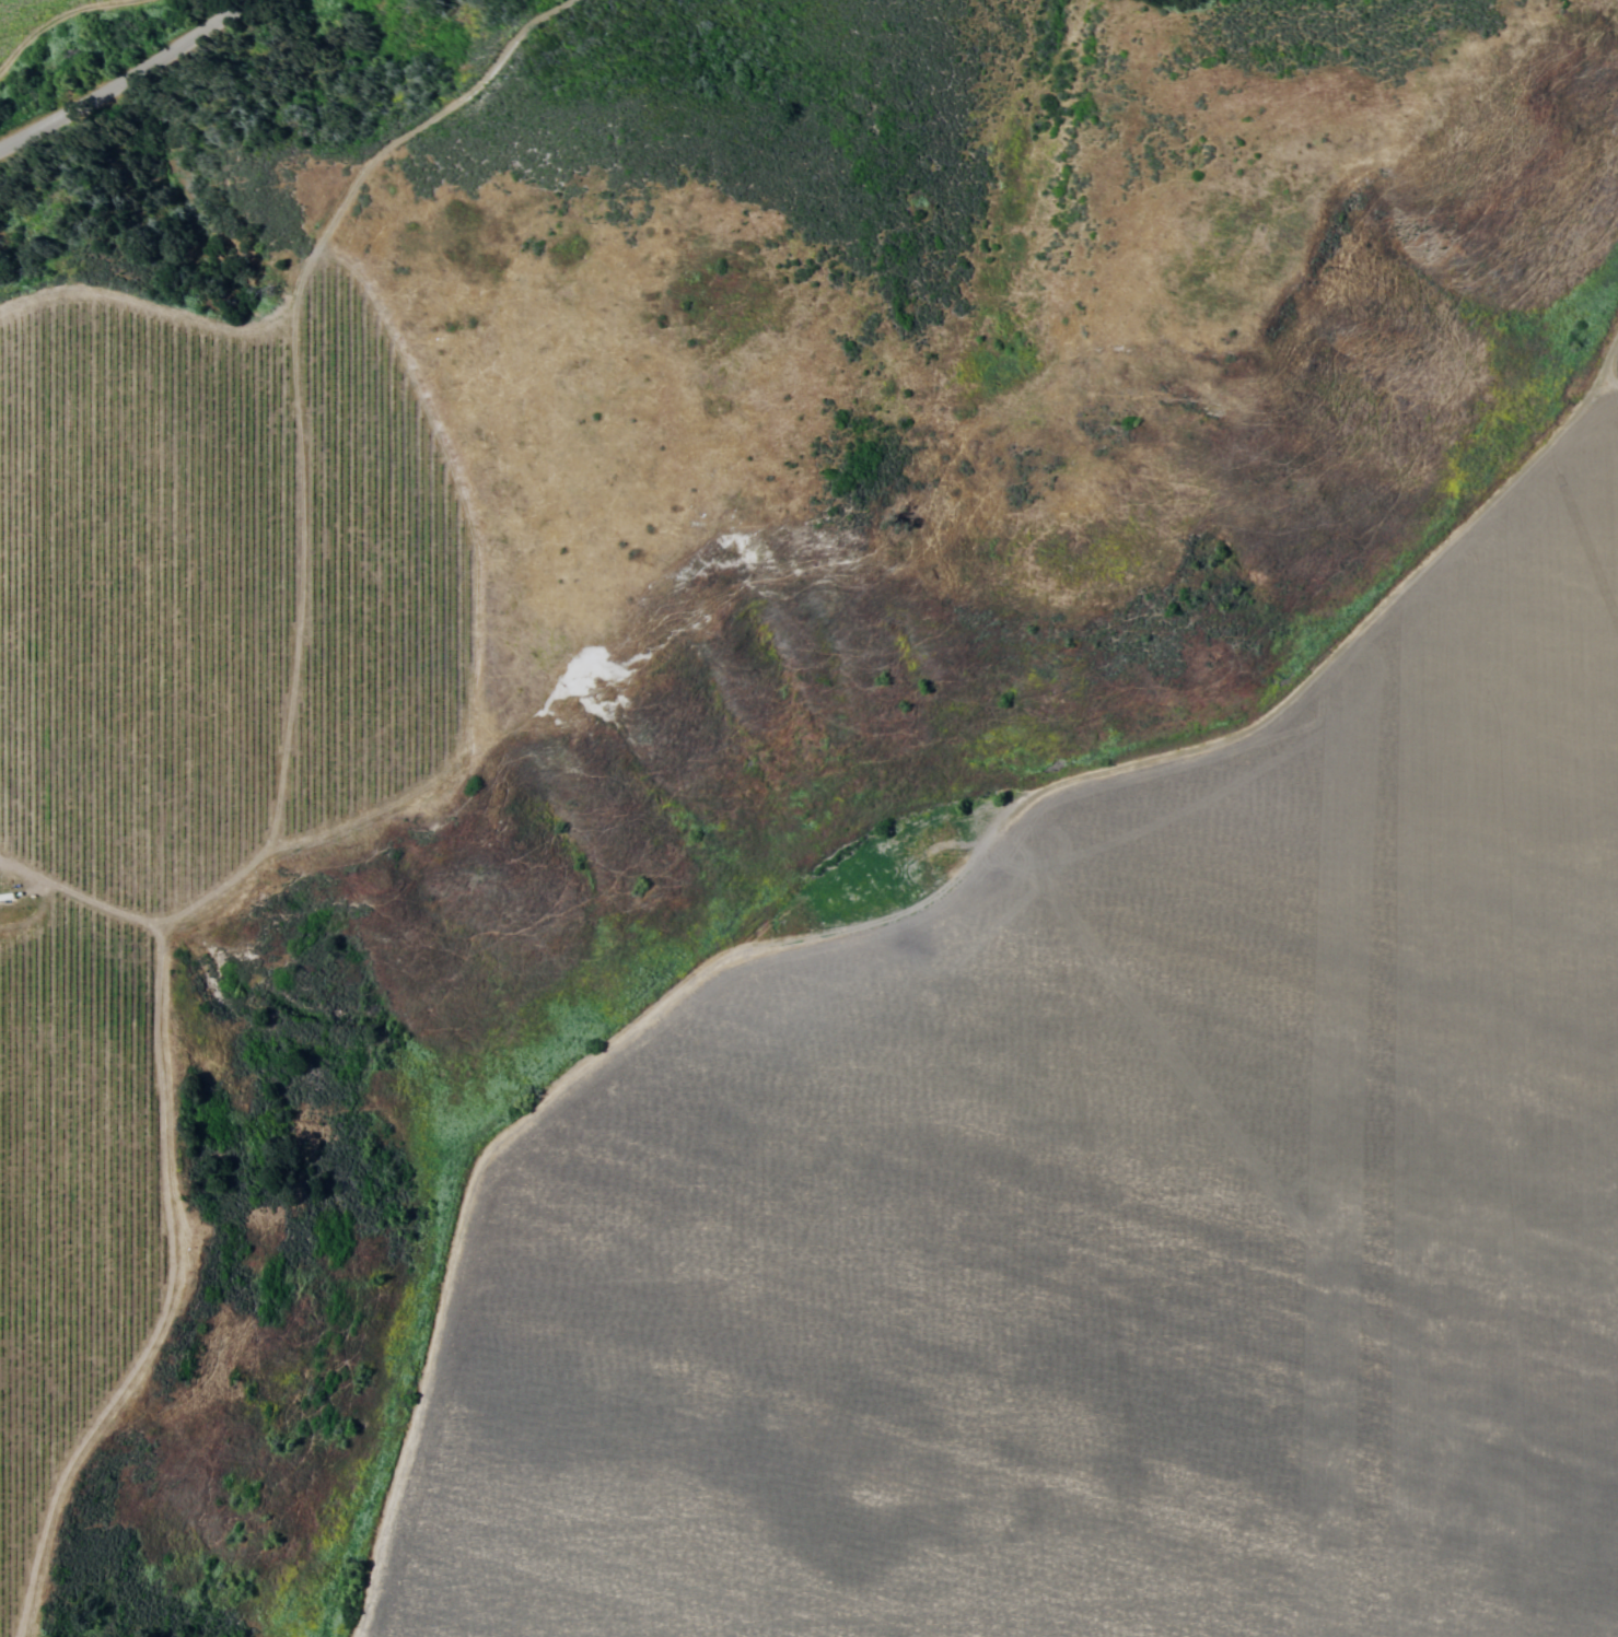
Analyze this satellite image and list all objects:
crop: (45, 23)
road: (129, 78)
crop: (1107, 1204)

